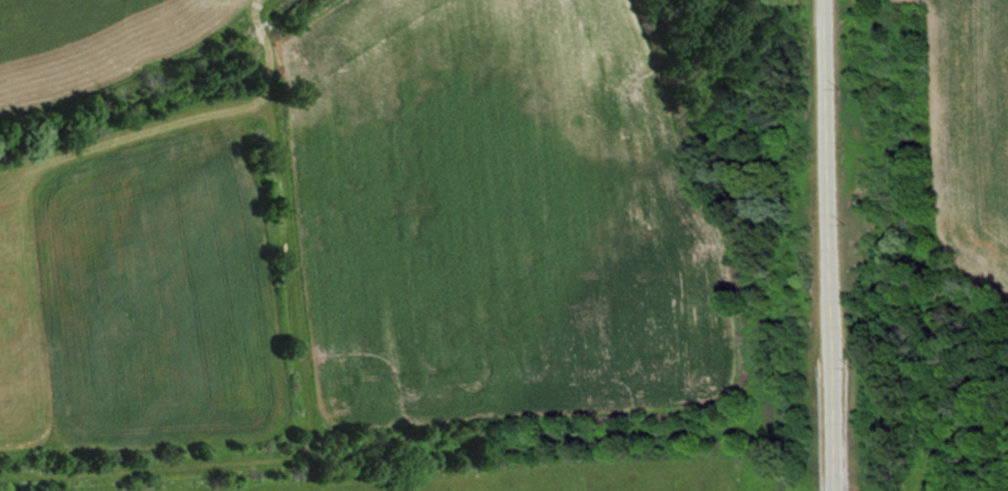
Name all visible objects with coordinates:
road: (828, 180)
road: (837, 426)

